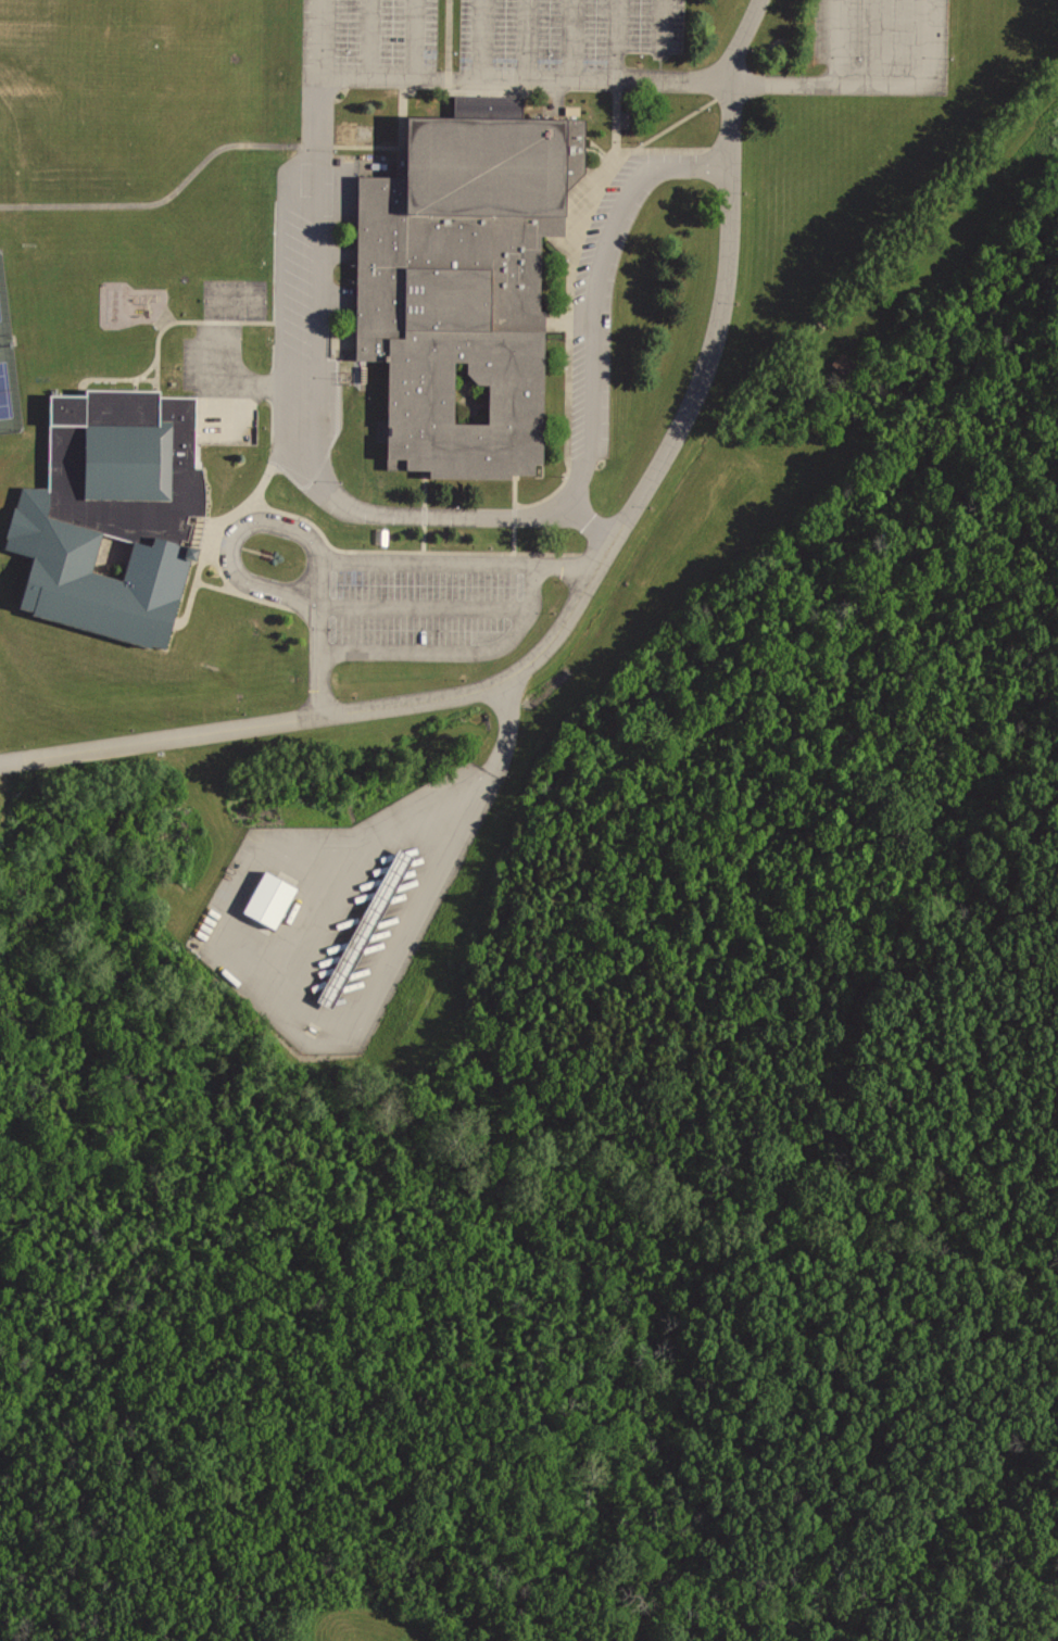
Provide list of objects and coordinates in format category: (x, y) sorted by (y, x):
road: (658, 26)
road: (317, 38)
road: (369, 38)
road: (414, 38)
road: (479, 38)
road: (525, 39)
road: (570, 39)
road: (616, 39)
road: (839, 40)
road: (884, 41)
road: (665, 78)
park: (30, 126)
road: (282, 143)
building: (470, 274)
park: (232, 301)
park: (7, 376)
road: (239, 379)
building: (117, 506)
road: (449, 515)
road: (591, 519)
road: (230, 545)
road: (378, 561)
road: (582, 590)
road: (420, 607)
road: (452, 649)
road: (496, 732)
building: (395, 883)
building: (266, 896)
road: (315, 922)
building: (358, 923)
road: (264, 987)

